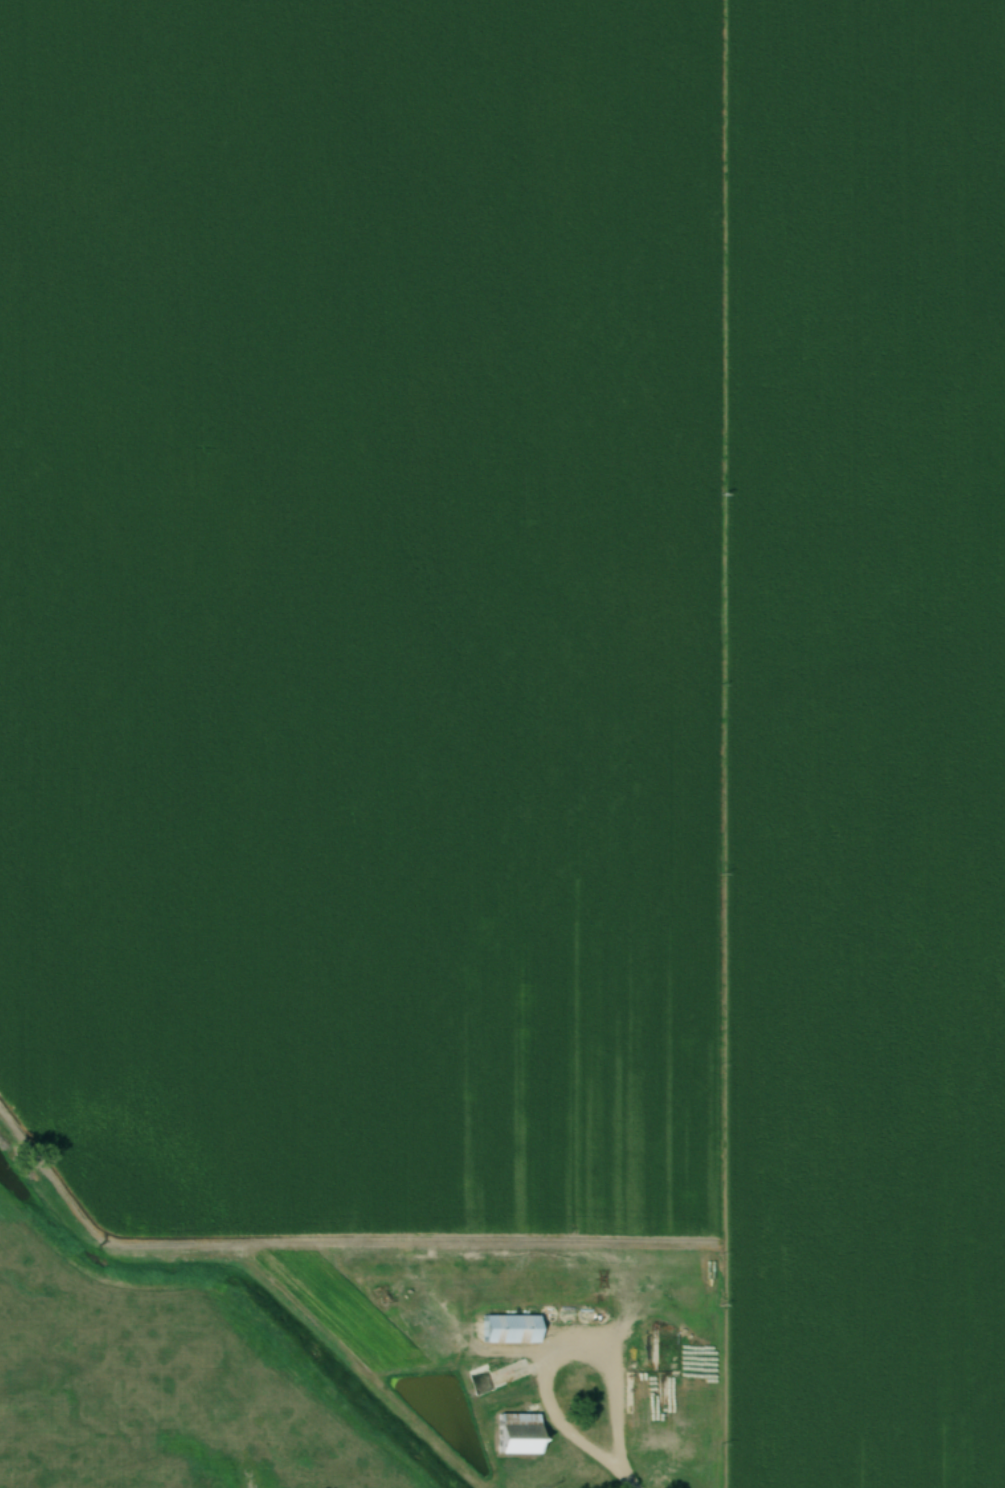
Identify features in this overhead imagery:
building: (507, 1330)
road: (559, 1423)
building: (515, 1435)
road: (627, 1478)

